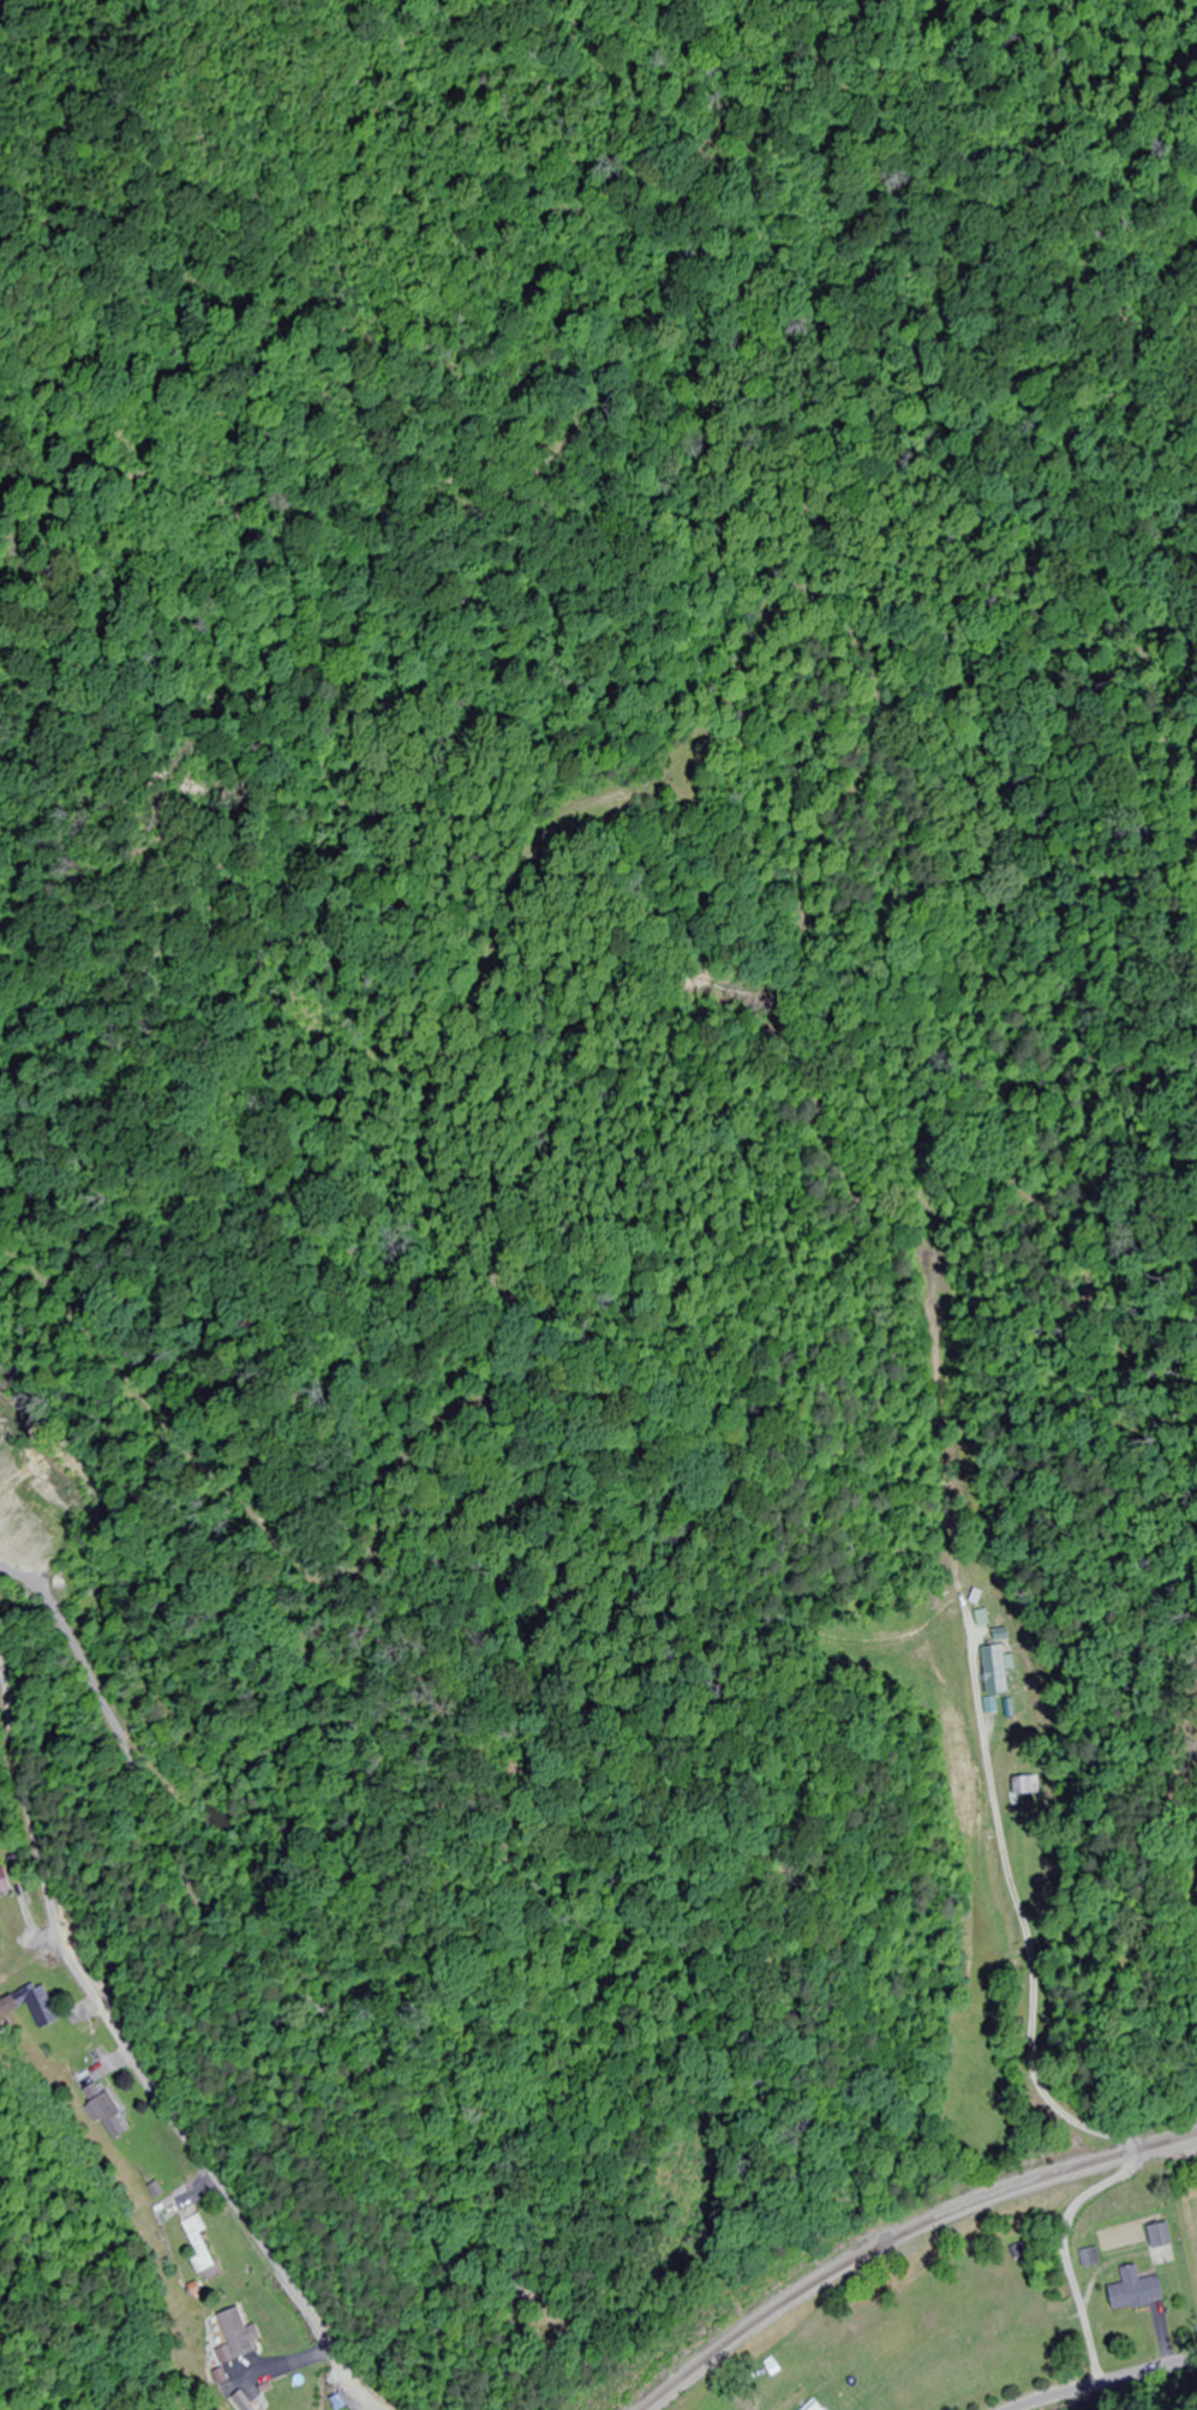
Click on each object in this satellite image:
building: (996, 1672)
building: (1024, 1786)
building: (5, 1882)
building: (36, 2006)
road: (130, 2057)
building: (107, 2111)
railway: (903, 2238)
building: (1162, 2246)
building: (203, 2249)
building: (1139, 2291)
road: (1101, 2380)
building: (245, 2402)
building: (820, 2406)

